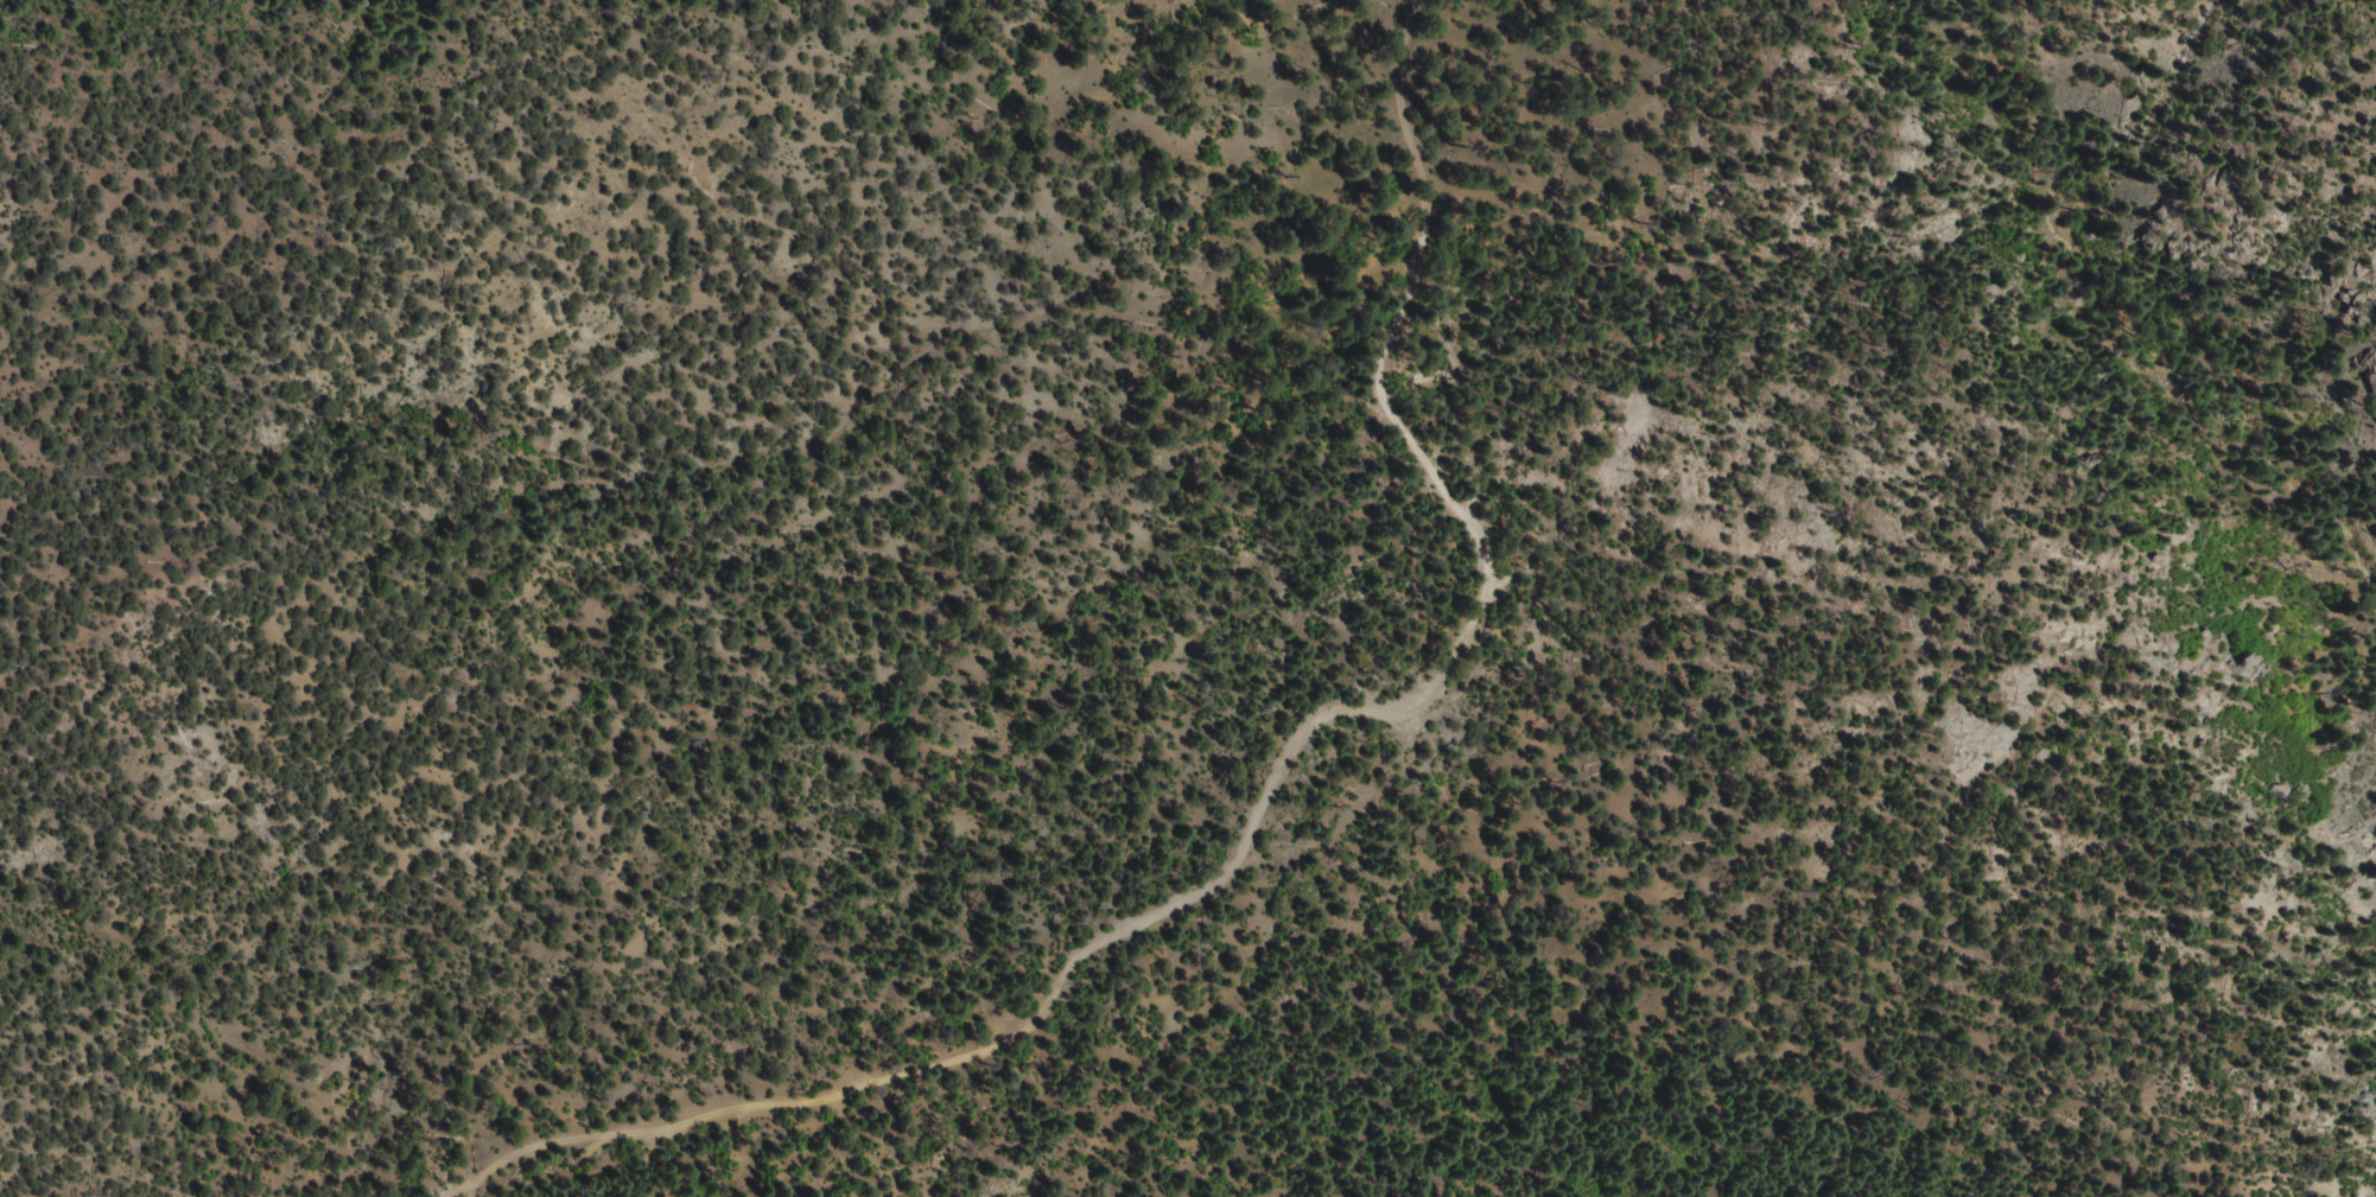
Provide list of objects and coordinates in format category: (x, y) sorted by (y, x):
road: (2142, 266)
road: (1269, 790)

